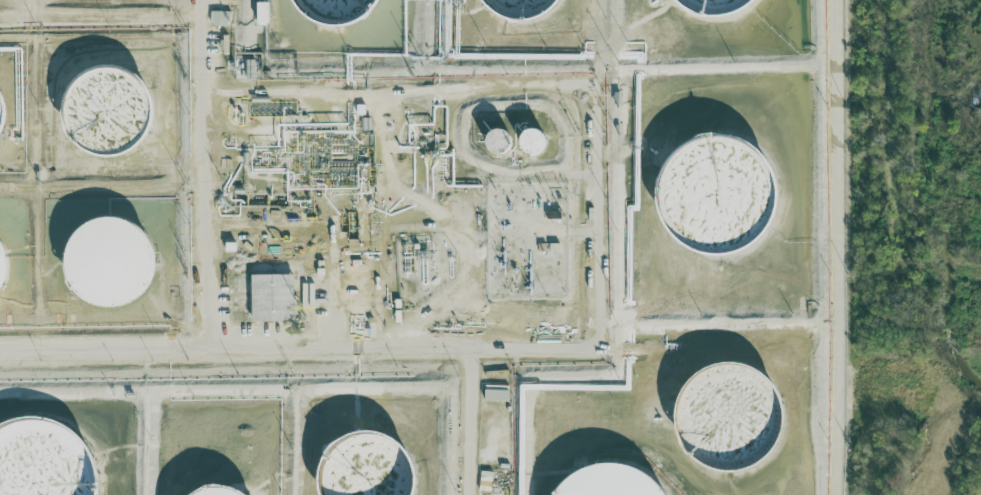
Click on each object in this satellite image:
building: (519, 9)
storage tank: (519, 9)
building: (710, 9)
storage tank: (710, 9)
building: (336, 10)
storage tank: (336, 10)
building: (264, 12)
building: (220, 18)
building: (0, 116)
storage tank: (0, 116)
building: (105, 116)
storage tank: (105, 116)
building: (497, 144)
storage tank: (497, 144)
building: (531, 144)
storage tank: (531, 144)
building: (713, 201)
storage tank: (713, 201)
road: (835, 247)
building: (105, 265)
storage tank: (105, 265)
building: (0, 268)
storage tank: (0, 268)
road: (213, 279)
building: (273, 297)
road: (531, 347)
building: (496, 392)
building: (724, 420)
storage tank: (724, 420)
road: (470, 421)
building: (42, 463)
storage tank: (42, 463)
building: (364, 469)
storage tank: (364, 469)
building: (606, 484)
storage tank: (606, 484)
building: (212, 494)
storage tank: (212, 494)

